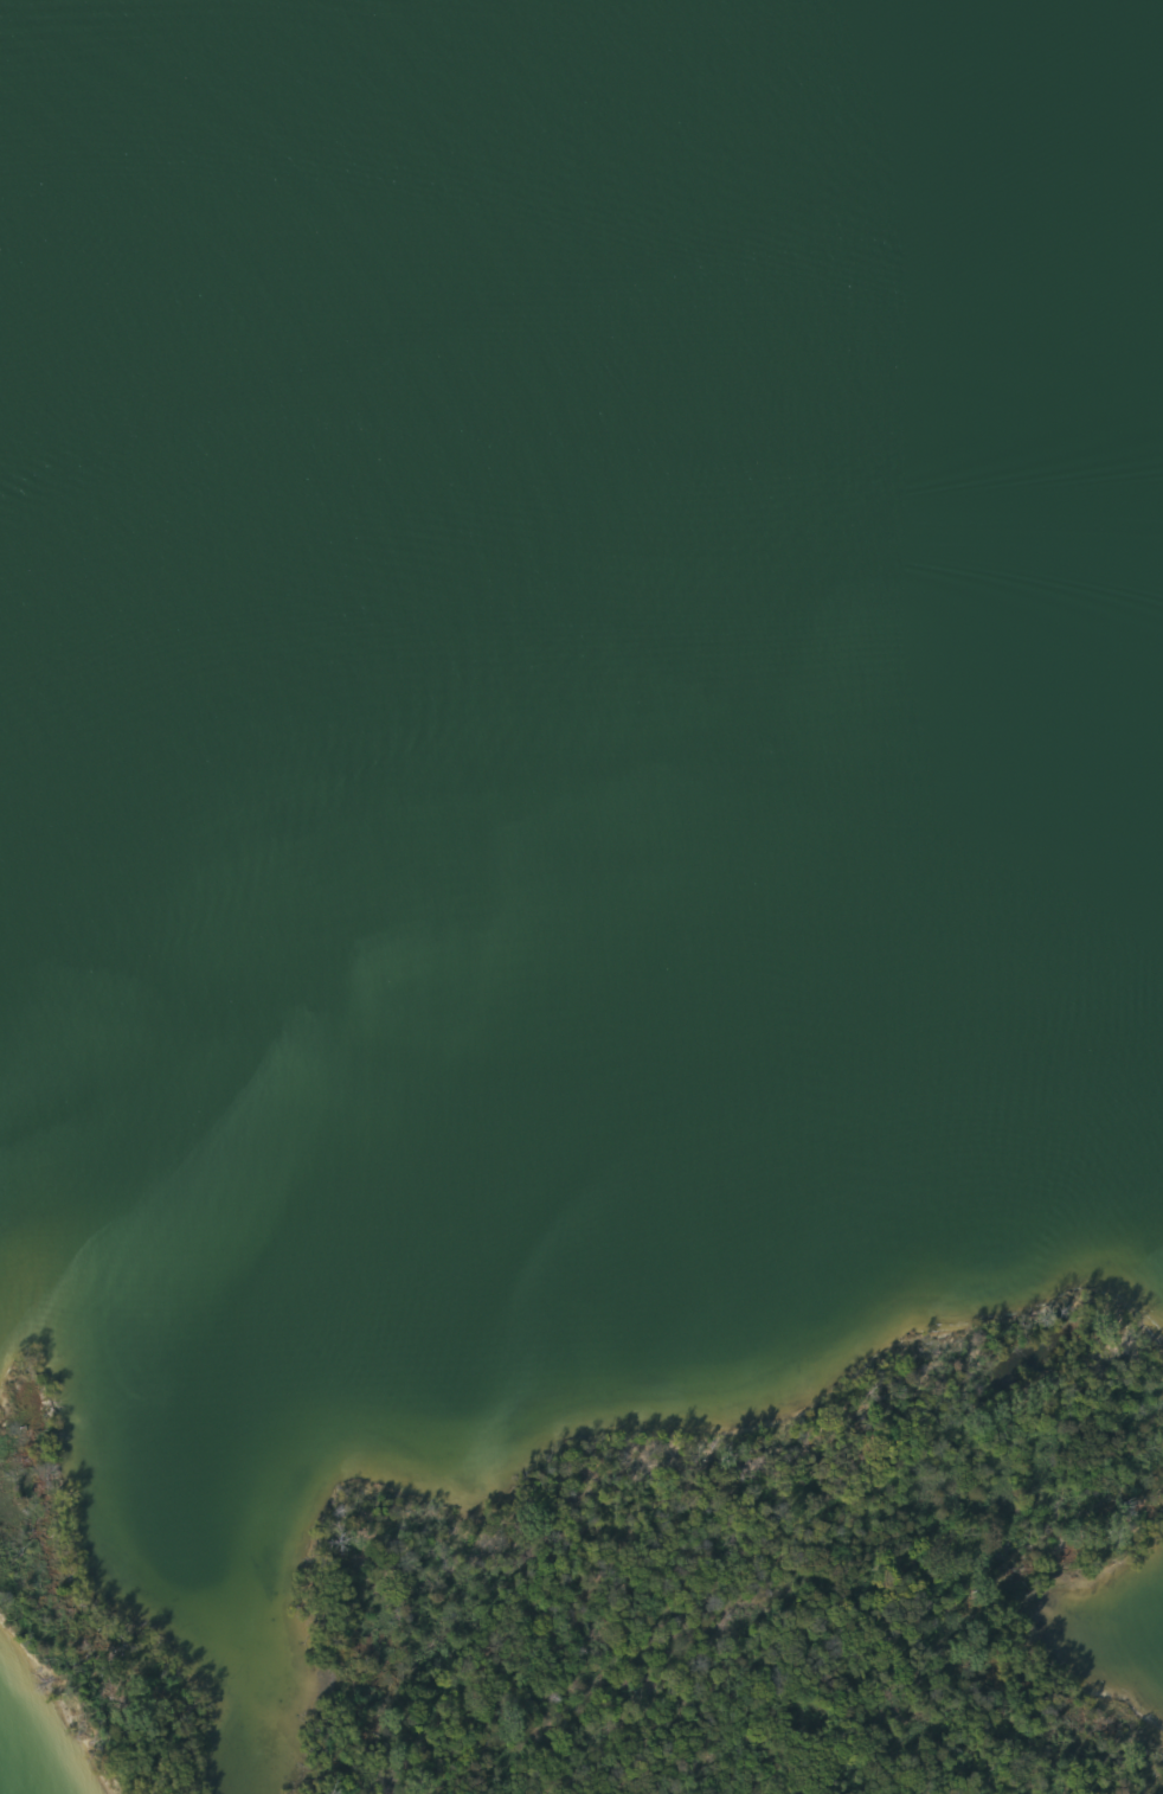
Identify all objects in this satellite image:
park: (763, 1593)
park: (84, 1607)

